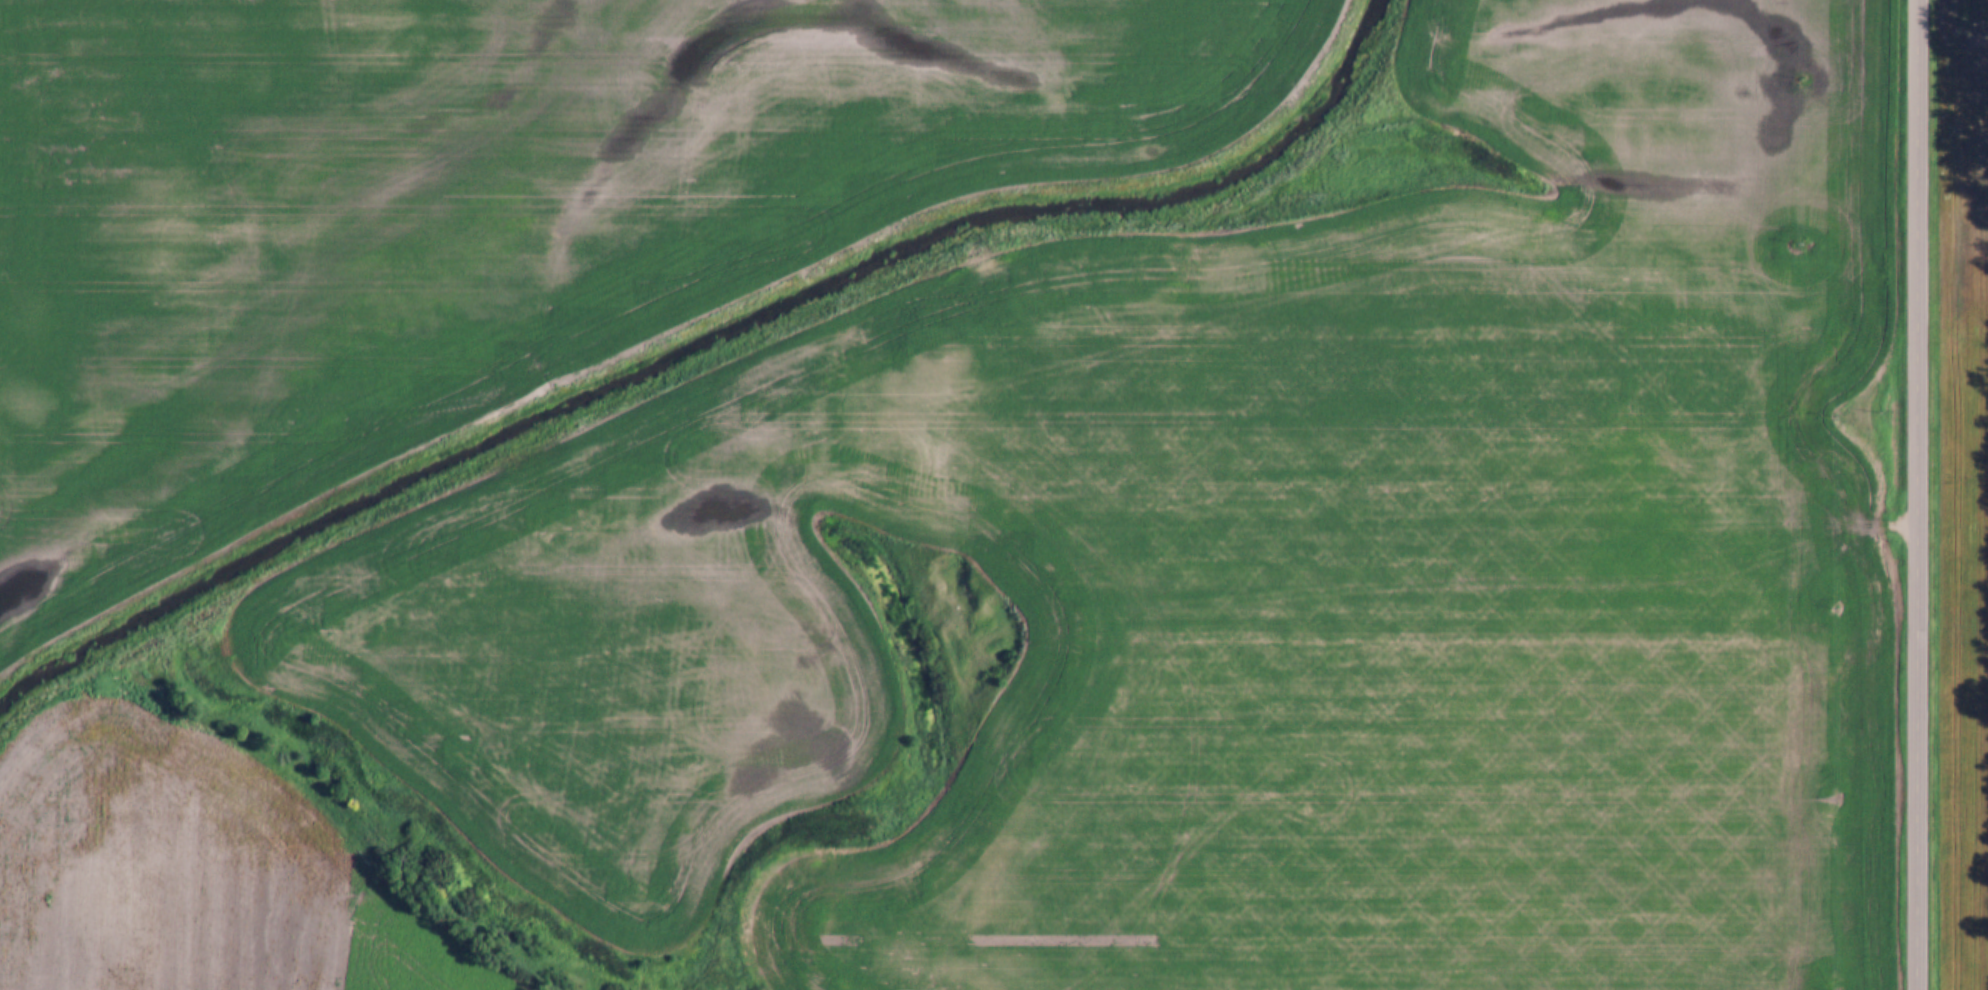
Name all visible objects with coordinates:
road: (1916, 495)

